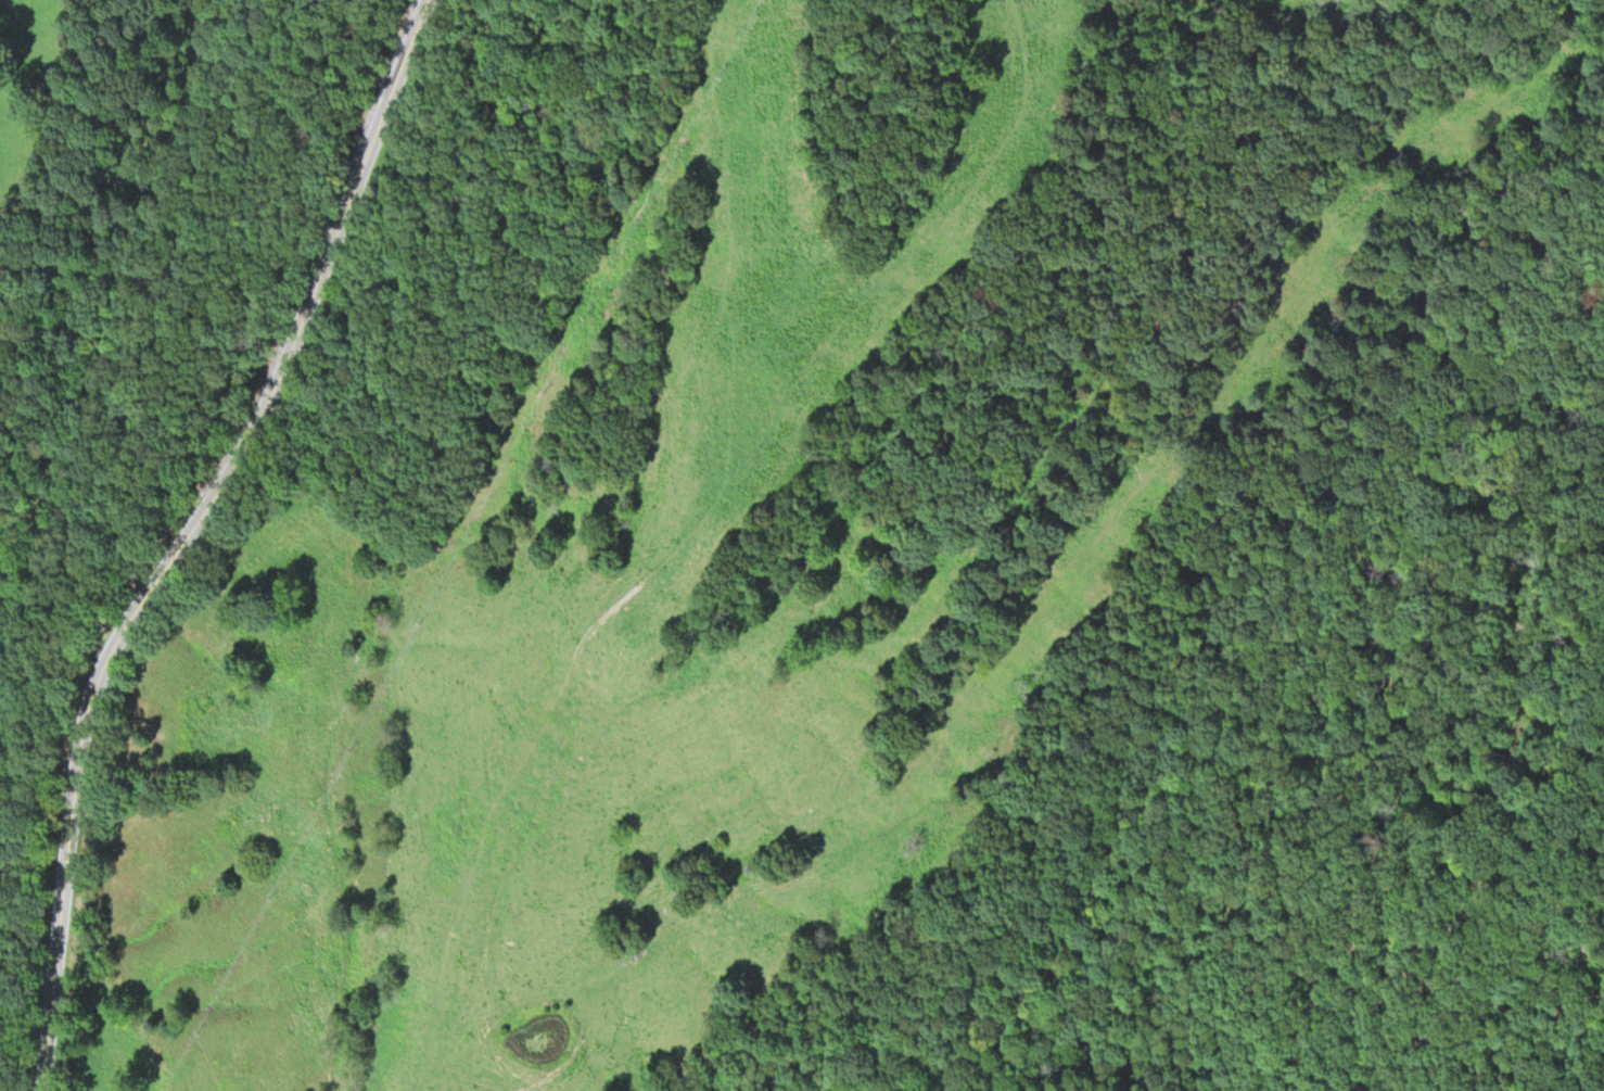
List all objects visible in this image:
road: (181, 533)

